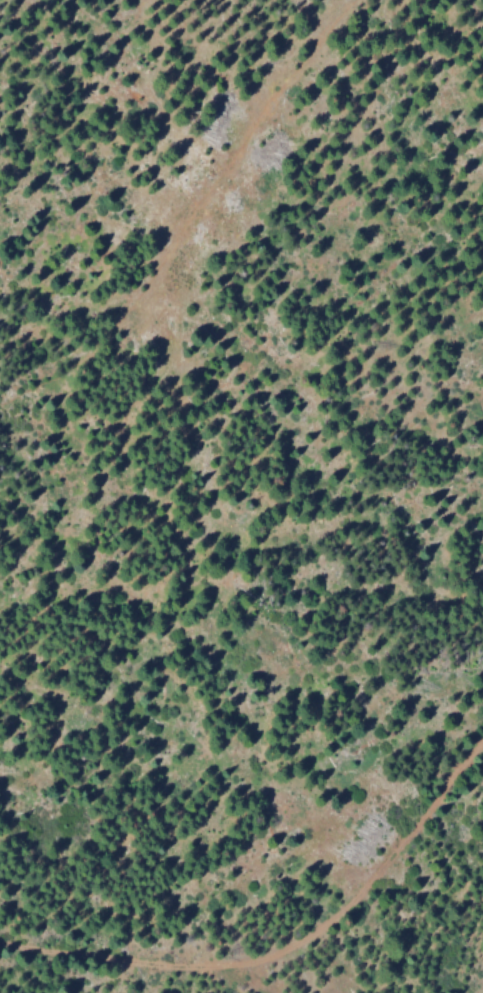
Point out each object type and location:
road: (353, 880)
road: (92, 958)

